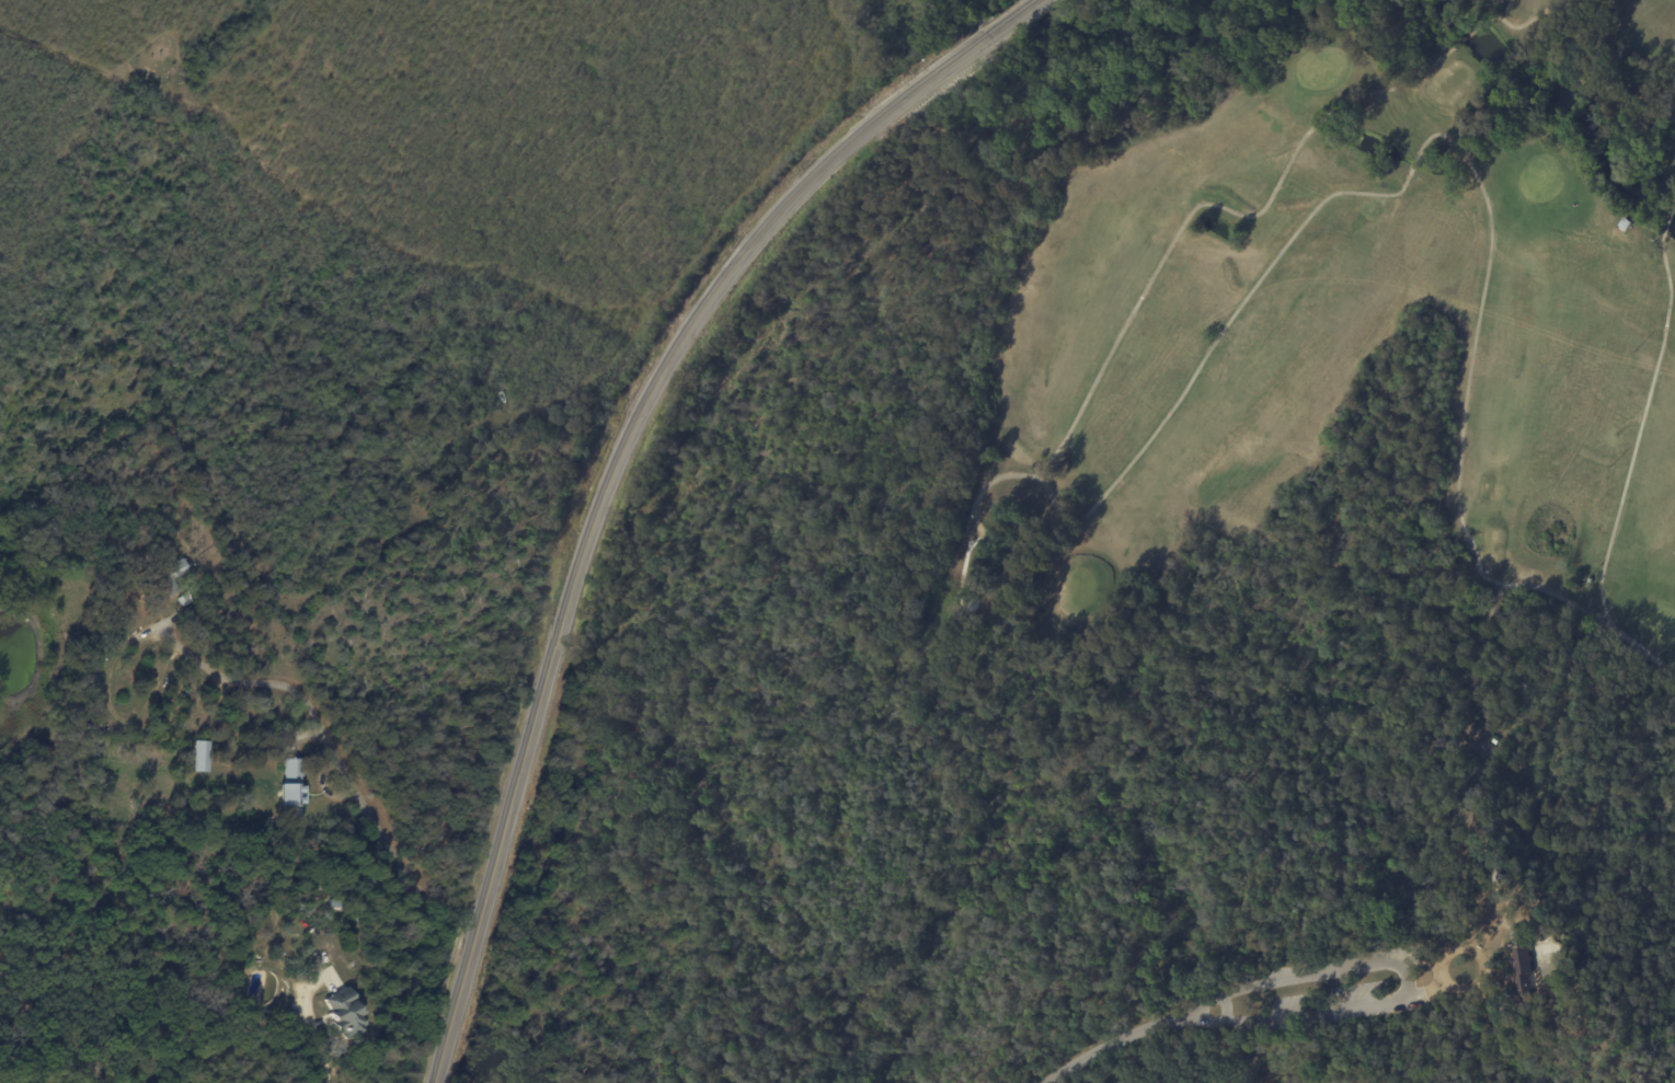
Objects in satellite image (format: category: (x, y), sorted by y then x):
road: (616, 466)
building: (176, 568)
park: (1139, 596)
road: (336, 753)
building: (199, 756)
building: (291, 786)
building: (1521, 972)
building: (344, 1011)
road: (1212, 1013)
road: (306, 1030)

